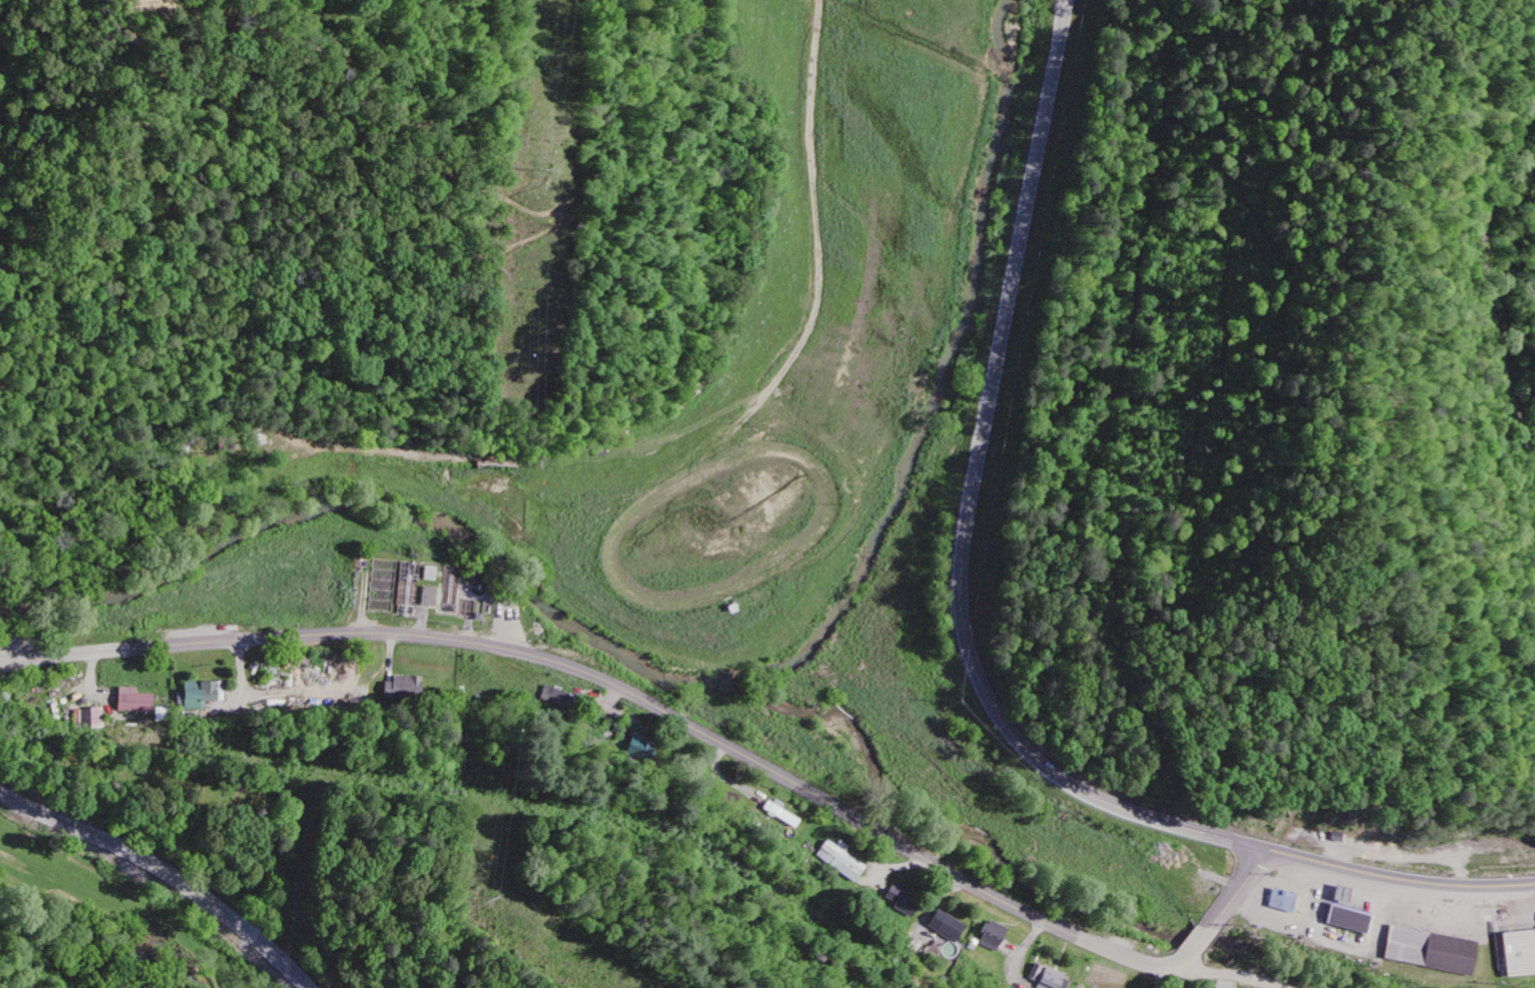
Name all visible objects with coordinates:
road: (818, 226)
road: (1489, 285)
road: (969, 512)
building: (427, 598)
building: (403, 690)
building: (202, 697)
building: (133, 703)
building: (92, 720)
road: (685, 720)
building: (839, 862)
road: (167, 871)
road: (1401, 878)
building: (1342, 896)
gas station: (1342, 896)
building: (1282, 903)
building: (1347, 921)
building: (944, 928)
building: (990, 937)
building: (1405, 946)
building: (1519, 953)
road: (1226, 974)
building: (1048, 980)

